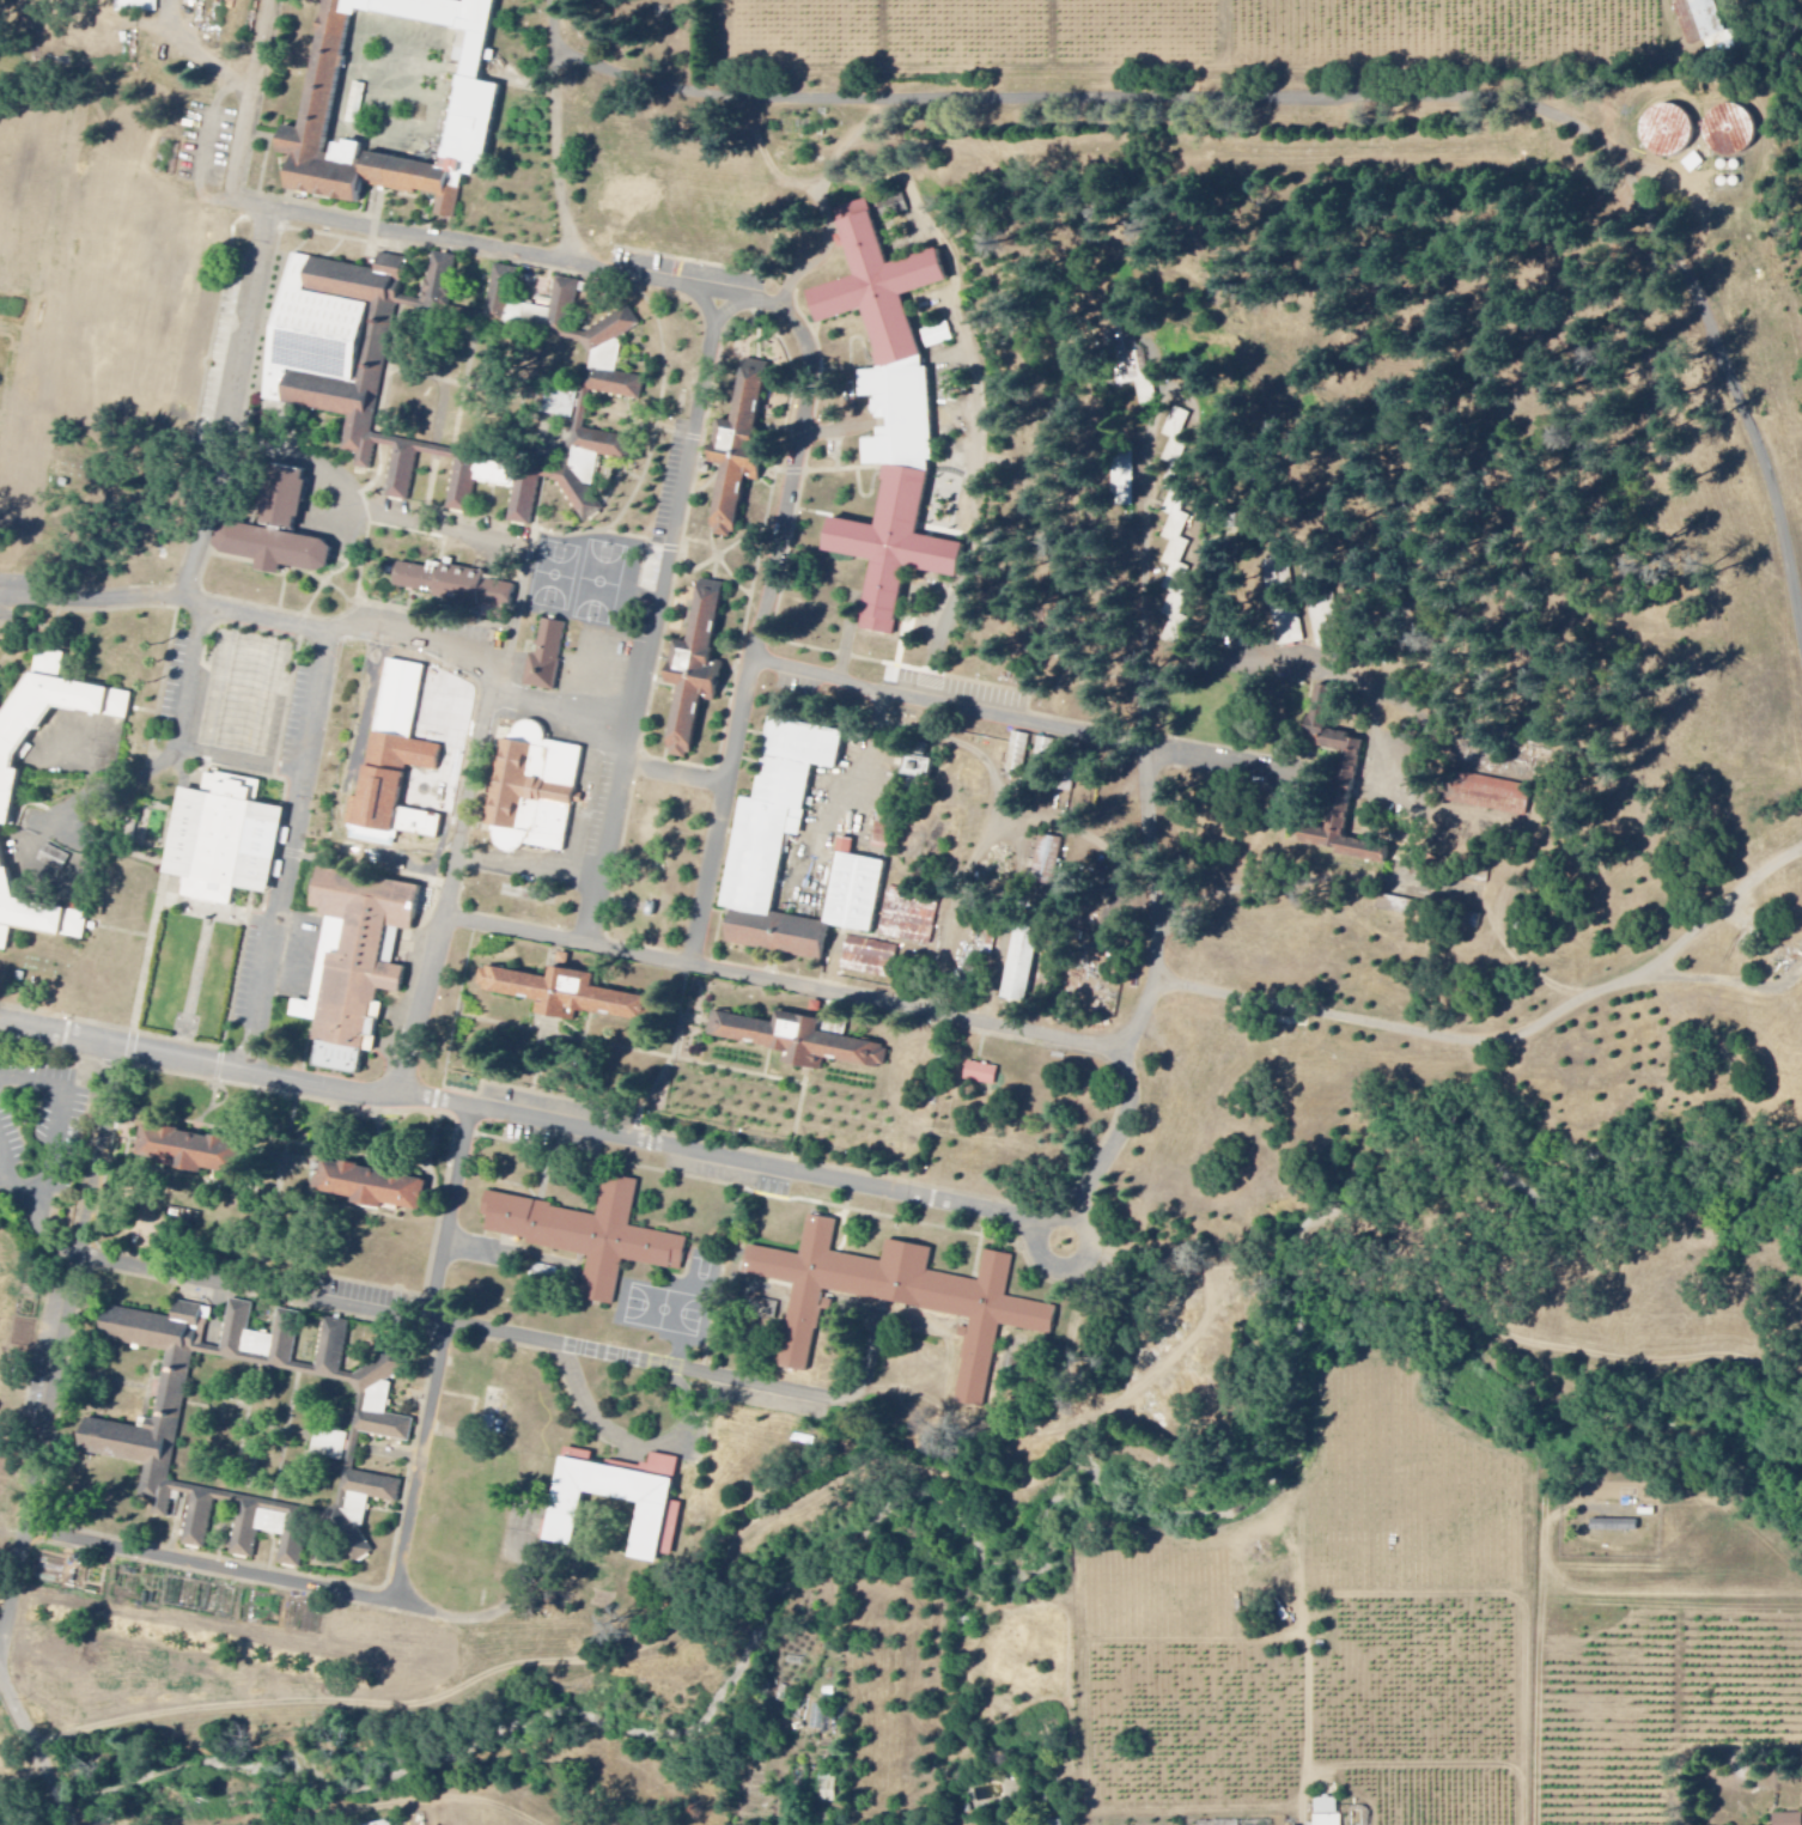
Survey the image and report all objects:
building: (136, 5)
park: (647, 22)
building: (1701, 23)
road: (134, 24)
road: (1444, 92)
road: (718, 97)
building: (477, 107)
road: (246, 116)
building: (1667, 128)
storage tank: (1667, 128)
building: (1729, 129)
storage tank: (1729, 129)
road: (560, 133)
building: (895, 205)
road: (528, 255)
building: (354, 282)
road: (30, 304)
building: (324, 335)
building: (1131, 369)
building: (611, 387)
building: (322, 394)
building: (559, 403)
road: (231, 406)
building: (893, 415)
road: (1752, 419)
road: (834, 428)
building: (1177, 434)
building: (744, 446)
building: (1125, 479)
road: (369, 515)
building: (281, 534)
road: (724, 553)
road: (777, 564)
building: (1176, 568)
road: (361, 574)
park: (554, 576)
park: (598, 583)
building: (455, 585)
road: (743, 585)
road: (93, 597)
building: (1284, 603)
road: (652, 621)
road: (516, 623)
building: (546, 657)
road: (1246, 661)
road: (471, 665)
building: (700, 670)
building: (244, 695)
road: (1029, 723)
road: (183, 734)
building: (398, 760)
road: (243, 765)
building: (917, 767)
road: (1389, 767)
building: (1335, 786)
building: (535, 790)
building: (7, 799)
building: (781, 810)
road: (1168, 829)
building: (227, 840)
road: (293, 854)
building: (55, 858)
building: (1047, 860)
road: (377, 870)
road: (1284, 877)
road: (458, 895)
road: (156, 900)
road: (218, 913)
building: (908, 918)
road: (1711, 921)
building: (783, 933)
building: (869, 959)
building: (355, 963)
building: (1019, 963)
road: (1715, 984)
road: (784, 985)
road: (196, 986)
building: (567, 996)
road: (1396, 1030)
building: (800, 1039)
road: (663, 1056)
road: (674, 1059)
building: (980, 1075)
road: (543, 1077)
road: (57, 1123)
road: (543, 1123)
building: (194, 1151)
road: (8, 1176)
building: (371, 1185)
road: (30, 1198)
road: (451, 1216)
building: (593, 1235)
road: (728, 1270)
road: (1079, 1276)
building: (902, 1297)
road: (382, 1314)
road: (694, 1330)
road: (62, 1365)
road: (806, 1394)
building: (130, 1434)
road: (626, 1444)
road: (421, 1465)
building: (619, 1497)
building: (1614, 1526)
road: (214, 1568)
road: (498, 1616)
road: (649, 1653)
crop: (5, 1746)
road: (32, 1753)
building: (828, 1789)
building: (1327, 1812)
building: (1788, 1820)
building: (386, 1824)
building: (1052, 1824)

